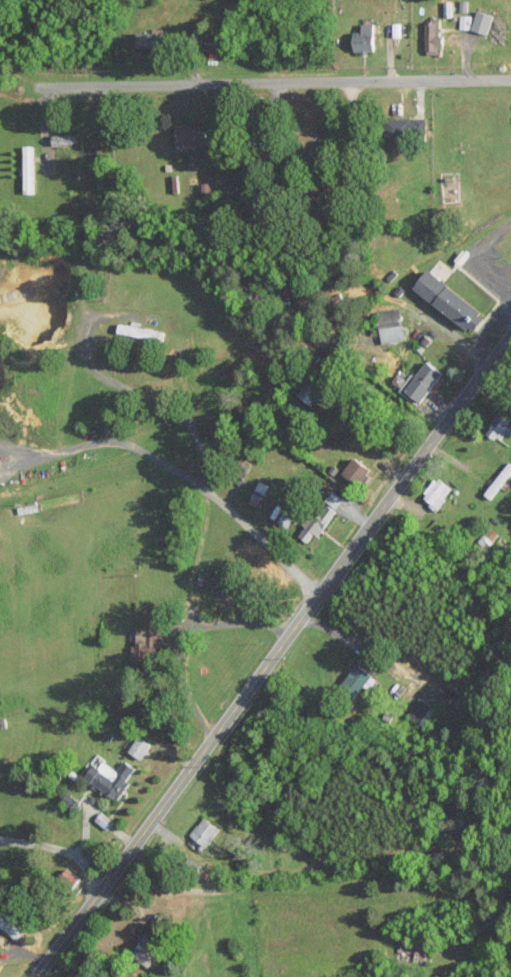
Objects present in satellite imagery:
building: (484, 20)
building: (432, 35)
building: (366, 38)
building: (150, 39)
road: (255, 82)
building: (408, 127)
building: (192, 132)
building: (28, 169)
building: (206, 191)
building: (254, 199)
road: (120, 256)
building: (451, 301)
building: (390, 325)
building: (140, 331)
building: (421, 382)
building: (309, 392)
building: (499, 427)
building: (357, 471)
road: (183, 474)
building: (502, 477)
building: (259, 493)
building: (437, 493)
building: (334, 499)
building: (286, 518)
building: (316, 524)
building: (487, 537)
building: (209, 580)
road: (240, 622)
building: (147, 647)
road: (272, 655)
building: (357, 679)
building: (419, 710)
building: (139, 747)
road: (3, 767)
building: (113, 777)
building: (106, 820)
building: (204, 835)
building: (68, 879)
building: (10, 926)
building: (149, 948)
building: (413, 953)

